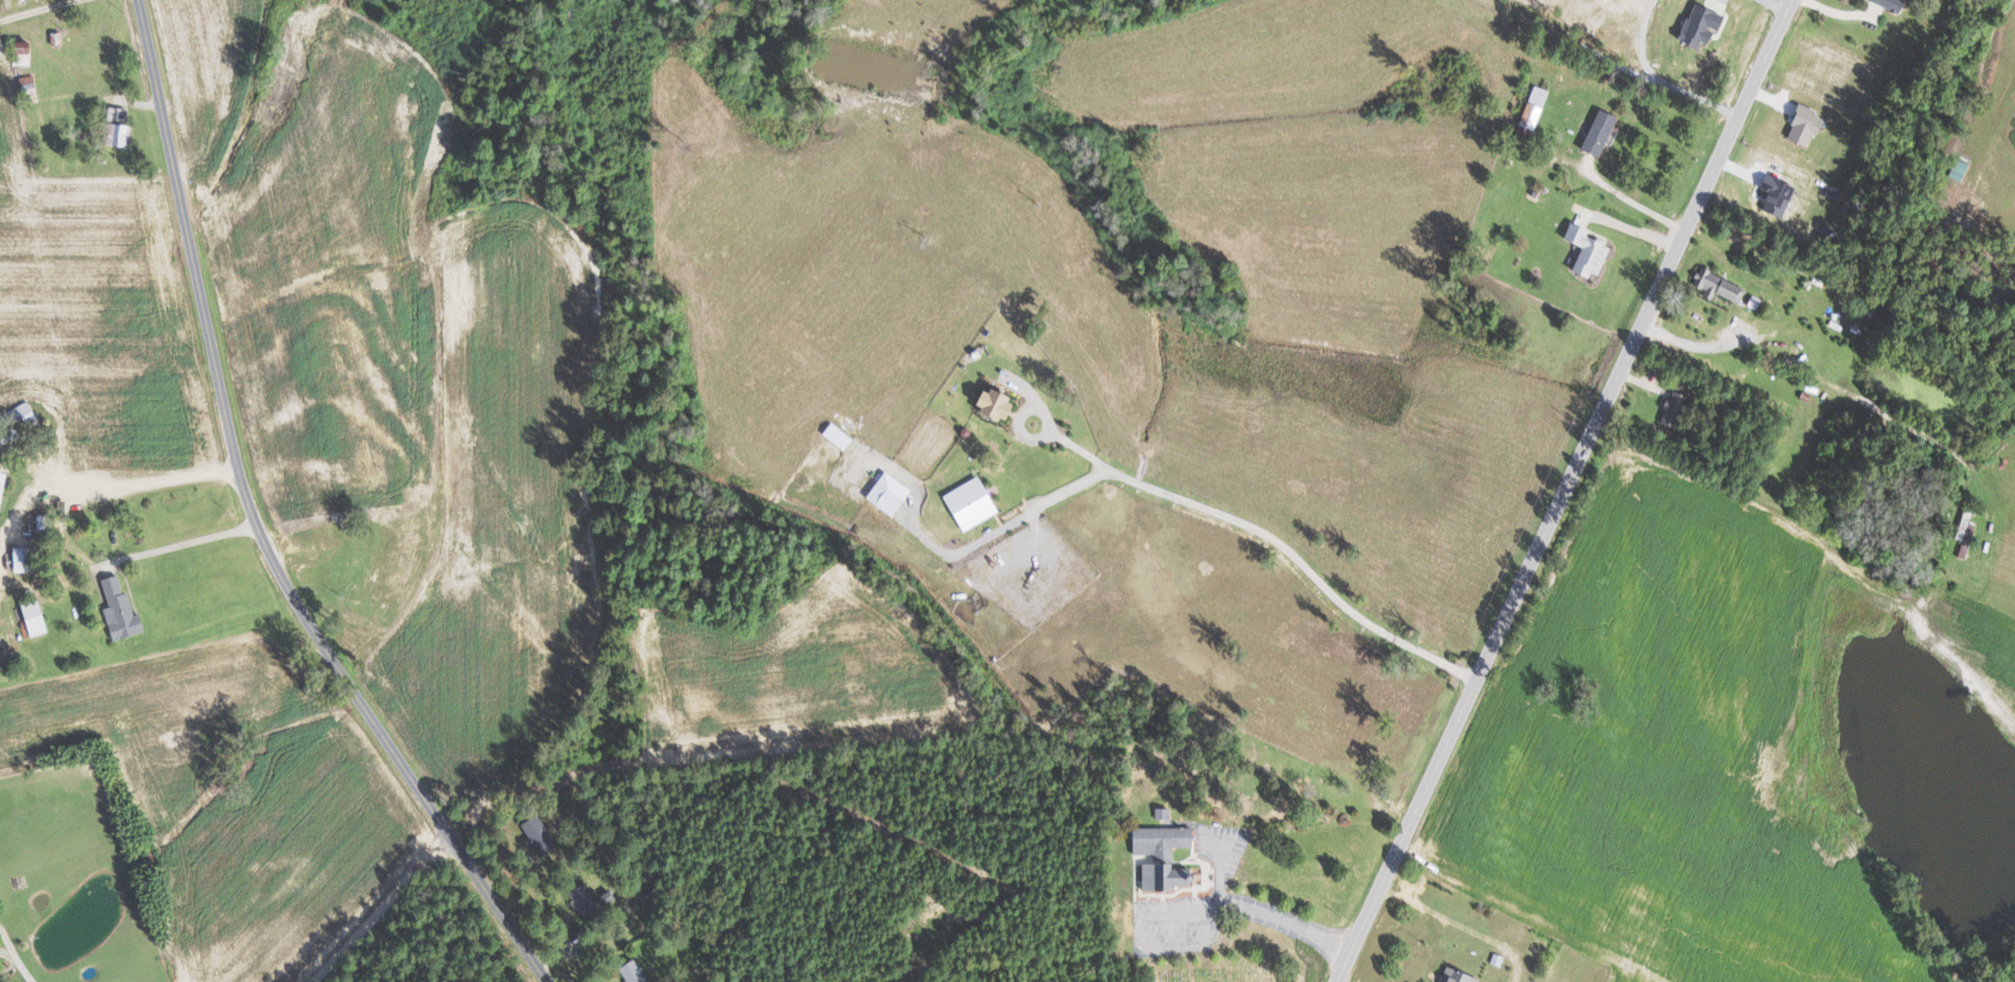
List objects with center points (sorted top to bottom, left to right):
building: (1887, 4)
road: (38, 8)
building: (0, 10)
road: (1625, 64)
building: (1530, 107)
building: (1519, 131)
building: (1594, 132)
building: (122, 134)
road: (1631, 200)
building: (1583, 251)
building: (1715, 286)
road: (1812, 369)
building: (988, 404)
building: (1668, 409)
building: (19, 417)
road: (105, 488)
building: (3, 491)
road: (1563, 491)
building: (883, 493)
building: (965, 504)
road: (1010, 515)
building: (45, 525)
road: (256, 525)
road: (1271, 525)
building: (1964, 533)
road: (180, 542)
building: (29, 559)
building: (123, 610)
building: (37, 616)
building: (1158, 814)
building: (542, 835)
building: (1159, 857)
building: (591, 904)
road: (379, 911)
road: (1452, 922)
road: (1292, 923)
road: (7, 940)
road: (7, 952)
road: (23, 968)
building: (638, 974)
building: (1453, 976)
road: (1342, 980)

